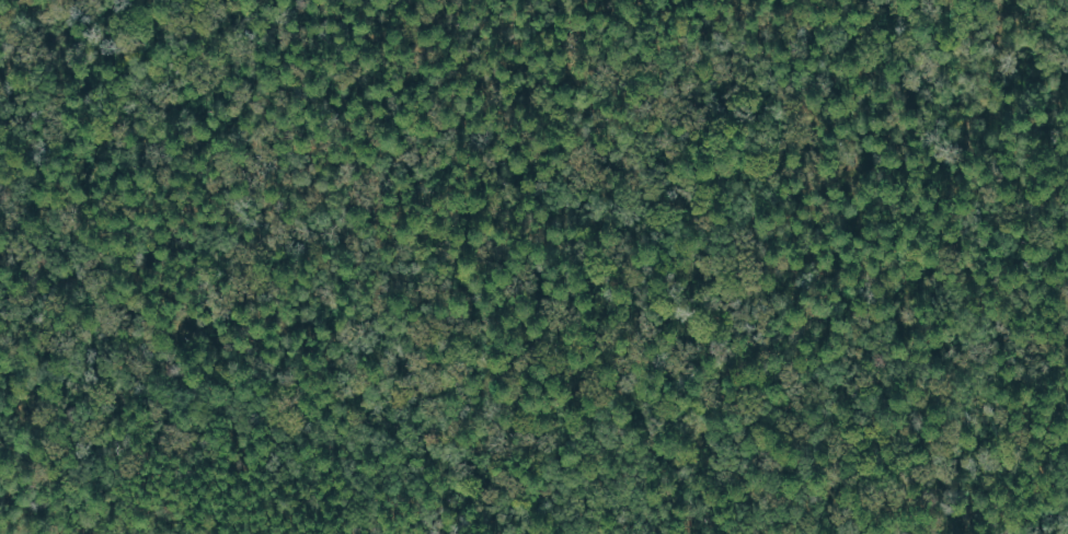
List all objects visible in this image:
road: (1043, 430)

